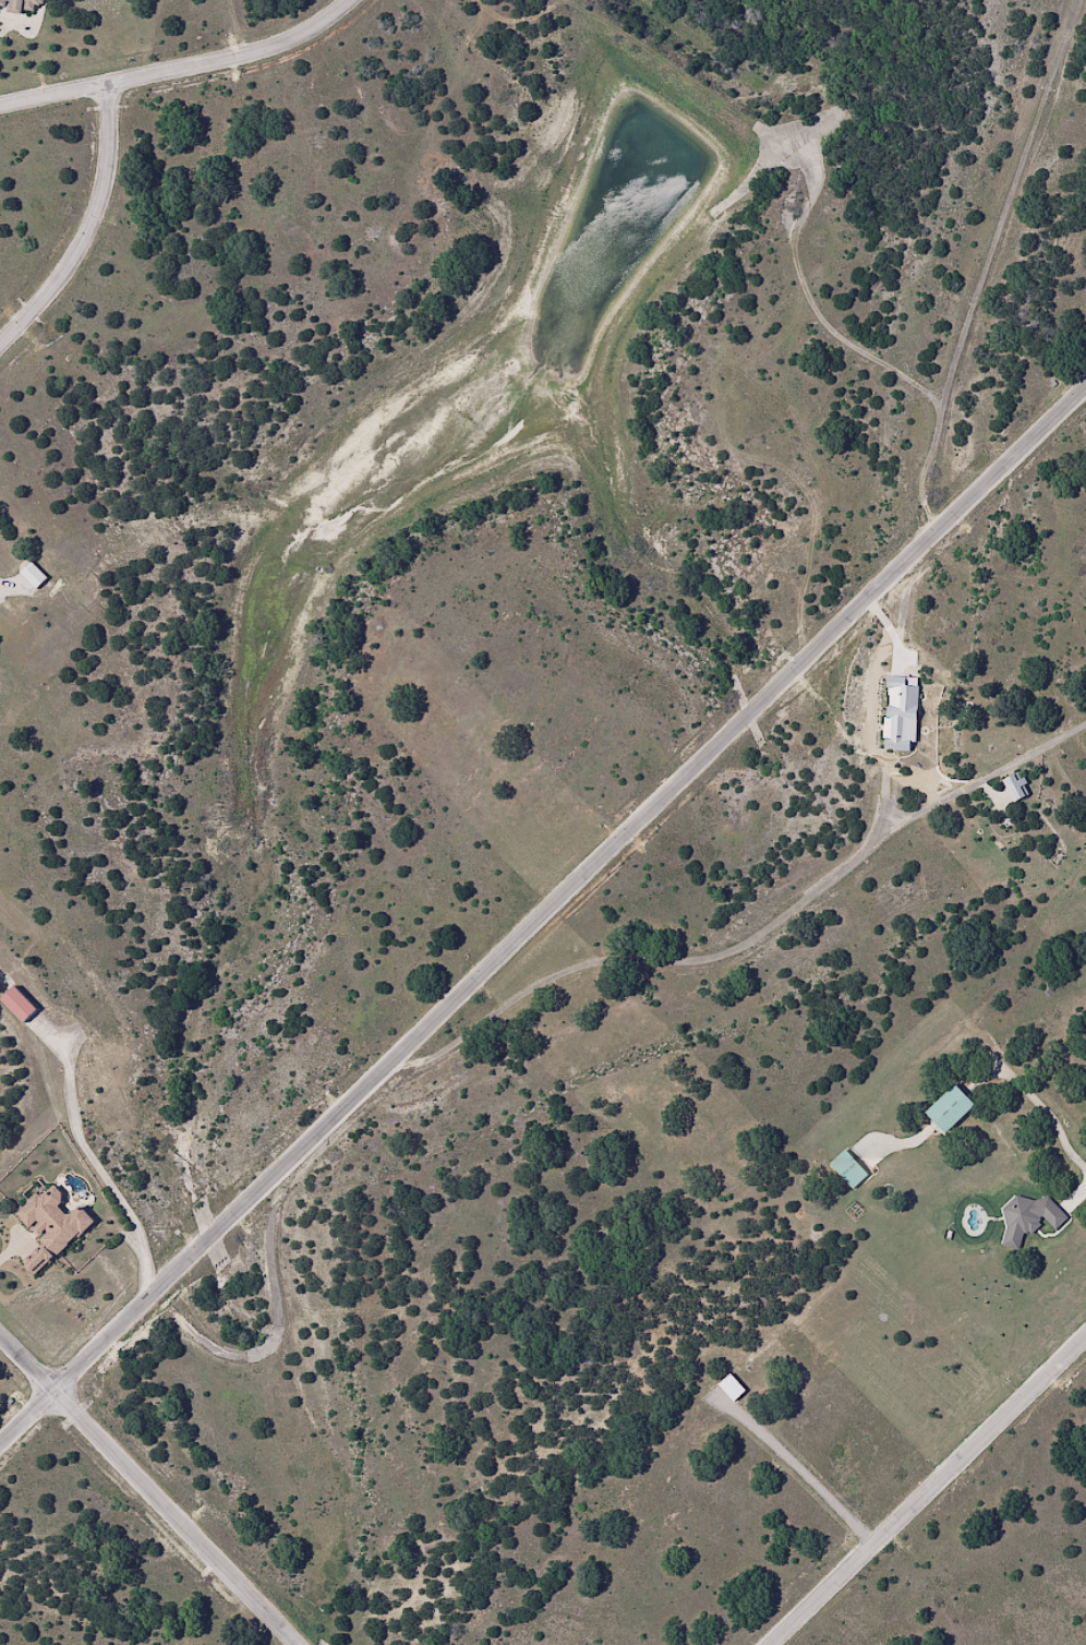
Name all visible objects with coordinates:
building: (2, 2)
building: (27, 5)
road: (183, 68)
road: (92, 229)
building: (37, 575)
building: (902, 716)
building: (1016, 789)
road: (542, 915)
road: (680, 960)
building: (22, 1005)
building: (954, 1108)
road: (1047, 1115)
road: (93, 1163)
building: (852, 1173)
building: (1033, 1215)
building: (55, 1226)
building: (736, 1388)
road: (808, 1481)
road: (150, 1492)
road: (929, 1492)

